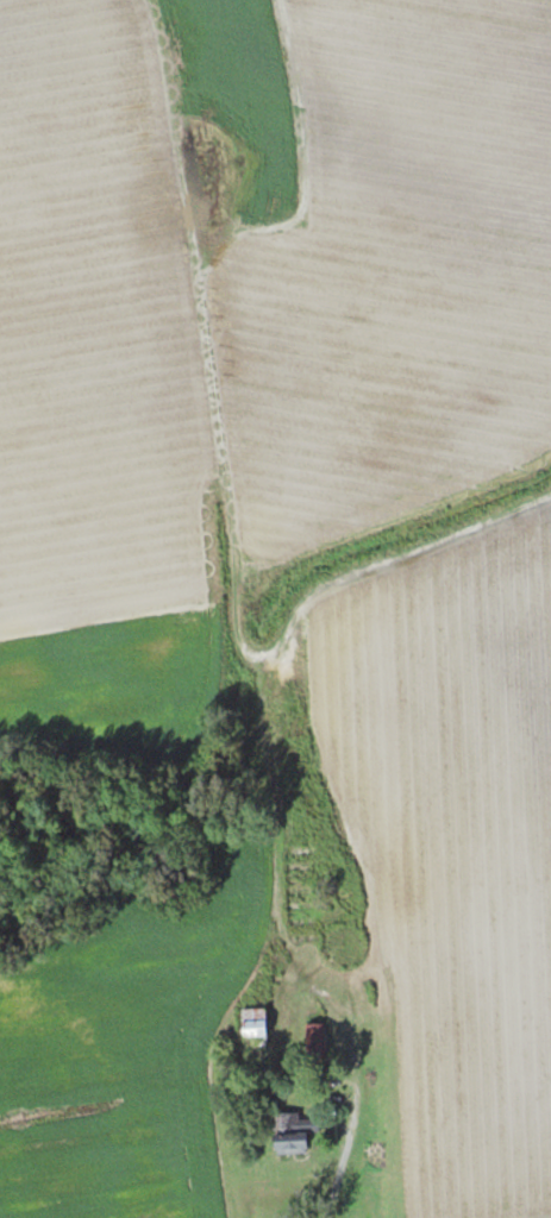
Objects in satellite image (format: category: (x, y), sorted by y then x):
building: (255, 1024)
building: (314, 1040)
building: (294, 1134)

